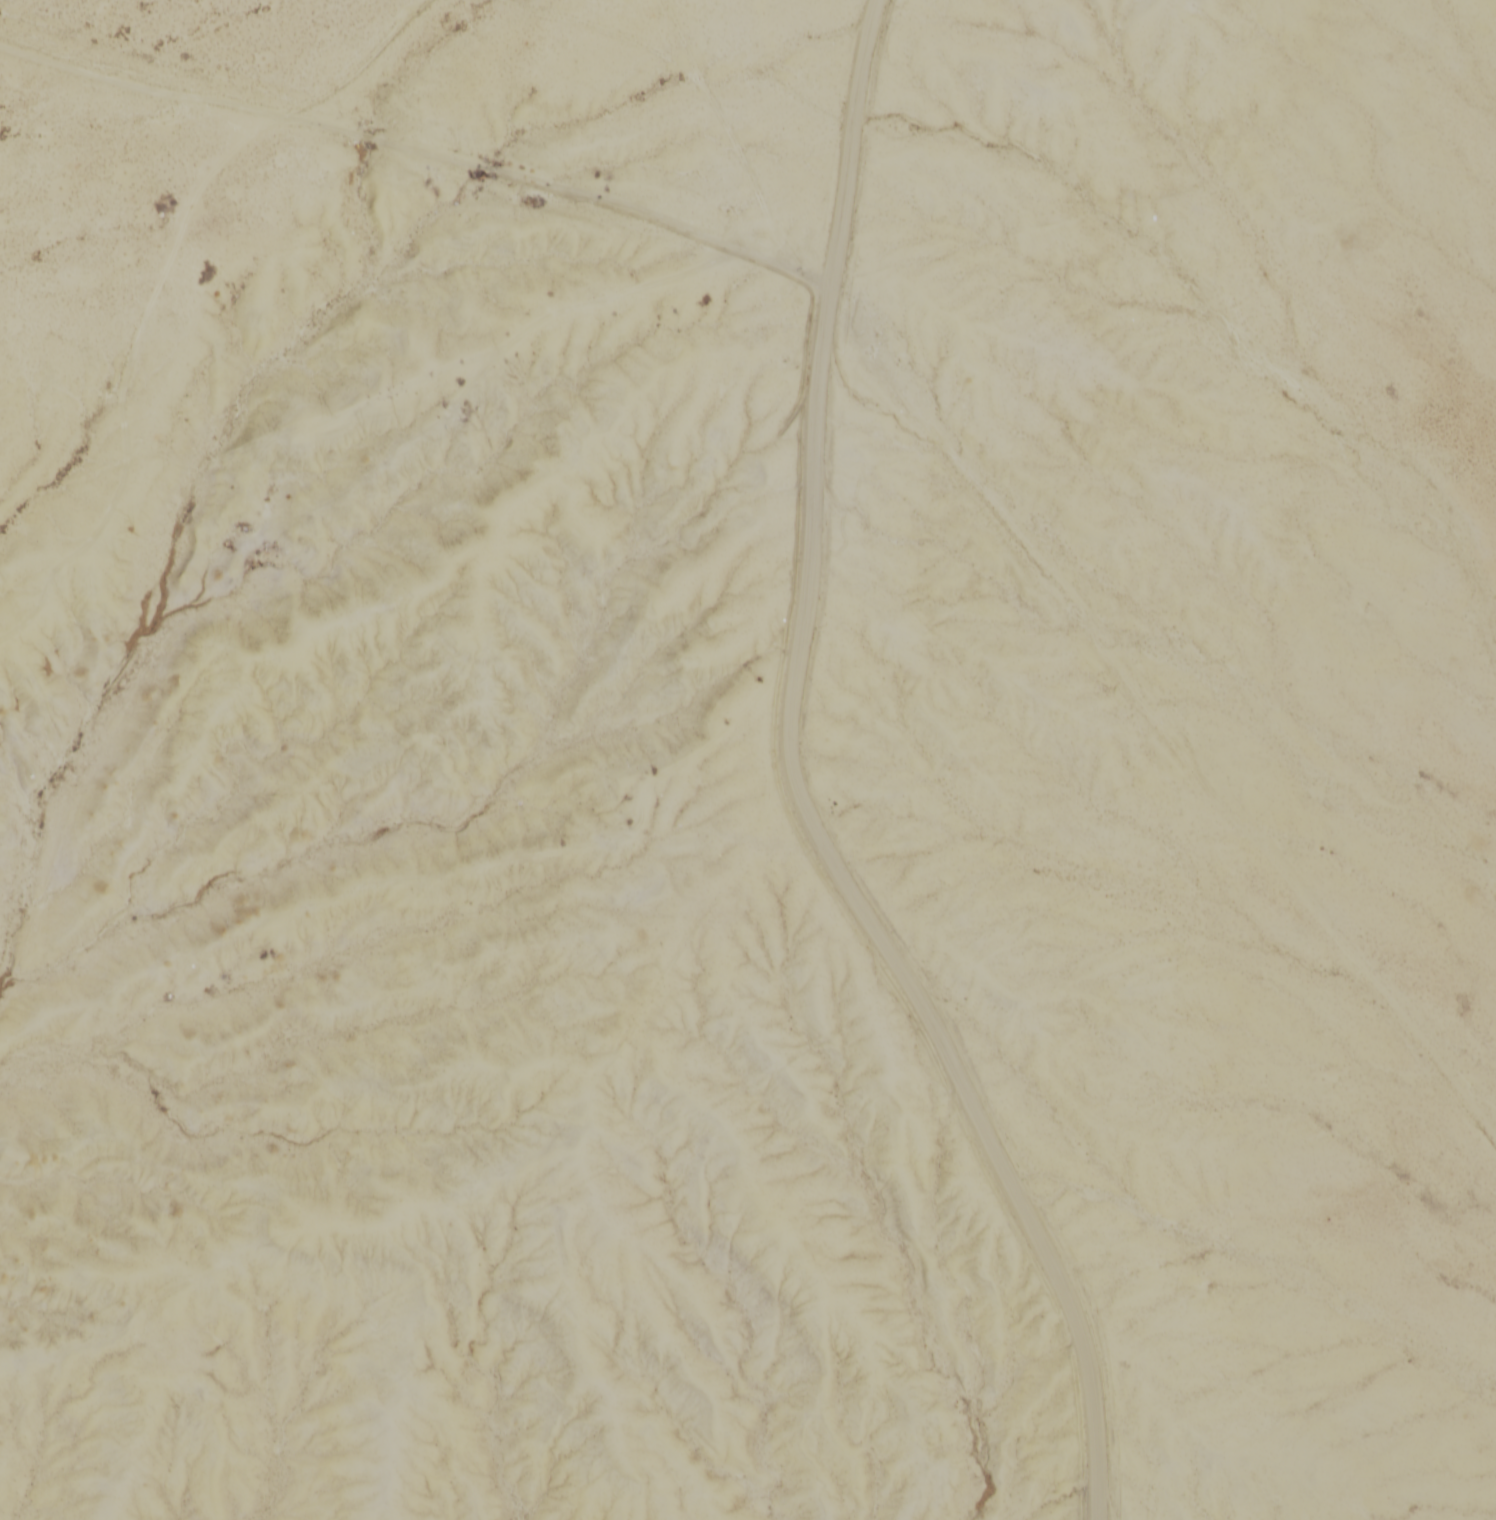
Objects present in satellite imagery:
road: (602, 31)
road: (676, 42)
road: (860, 60)
road: (416, 149)
road: (746, 176)
road: (828, 847)

